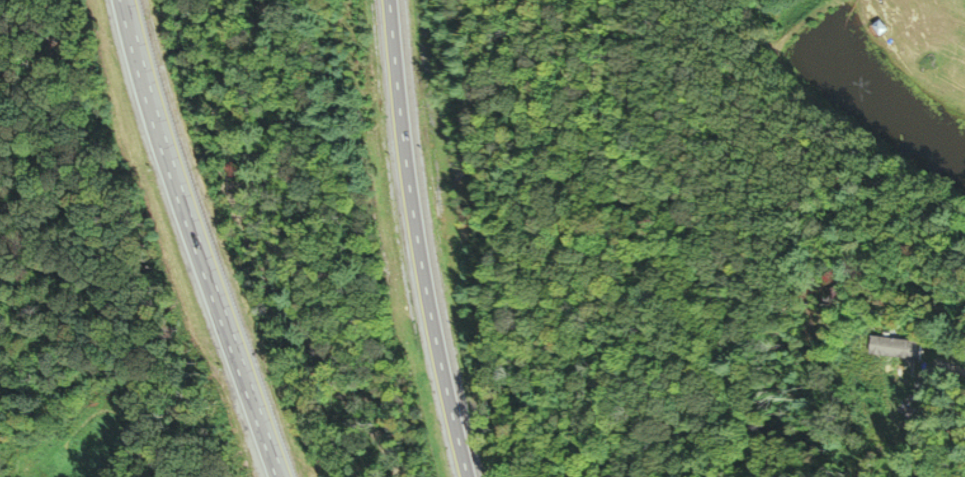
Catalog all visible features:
road: (196, 239)
road: (416, 240)
river: (256, 252)

